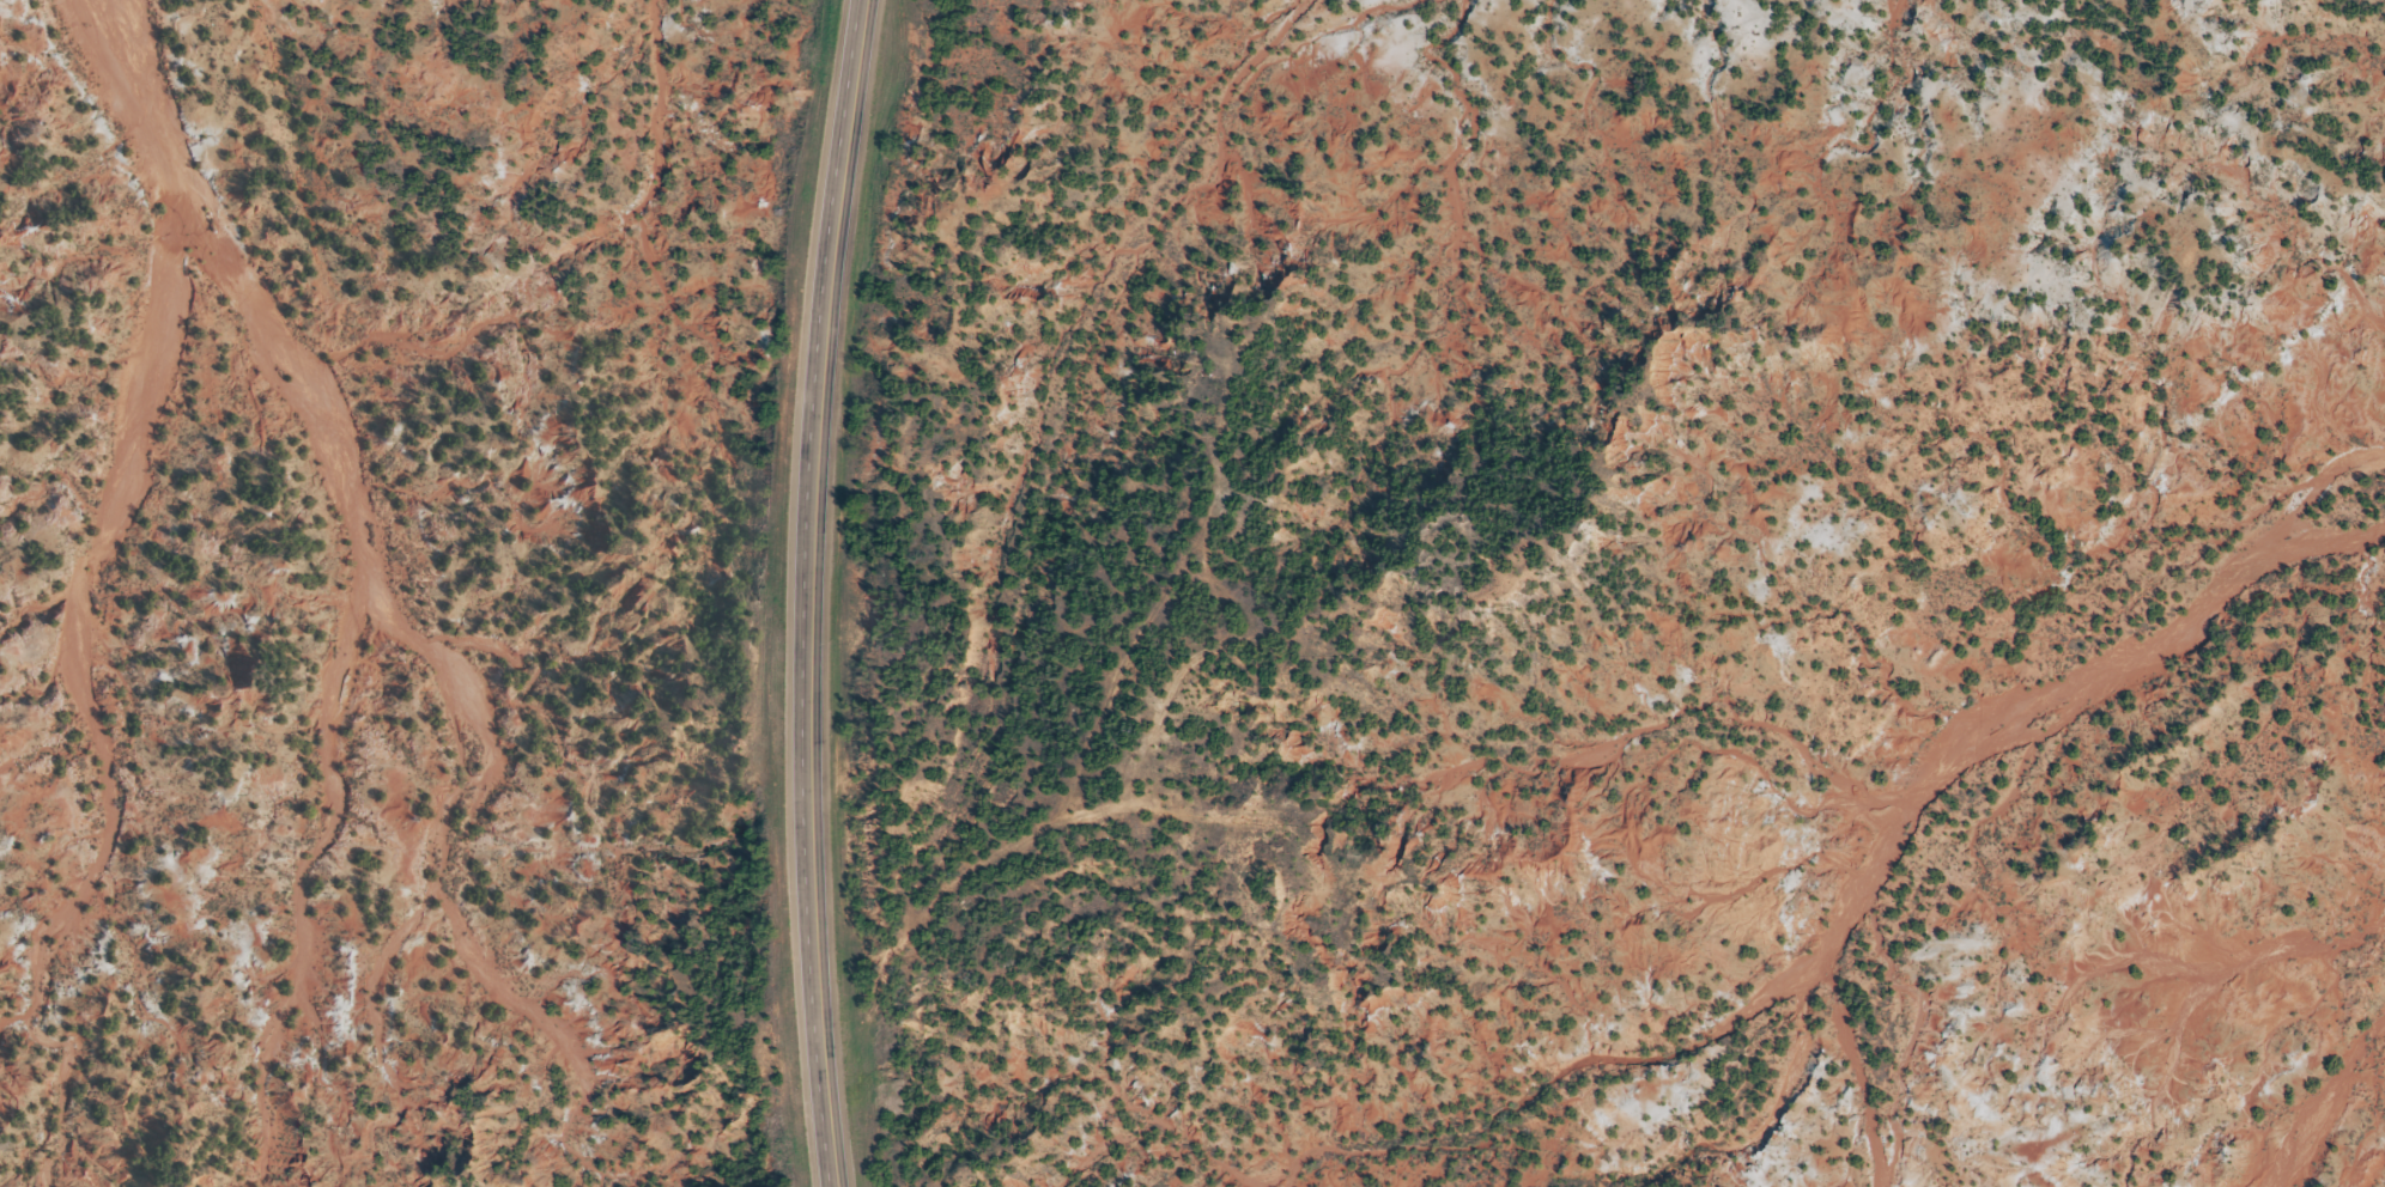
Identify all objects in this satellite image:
road: (807, 592)
road: (1142, 787)
road: (1187, 853)

